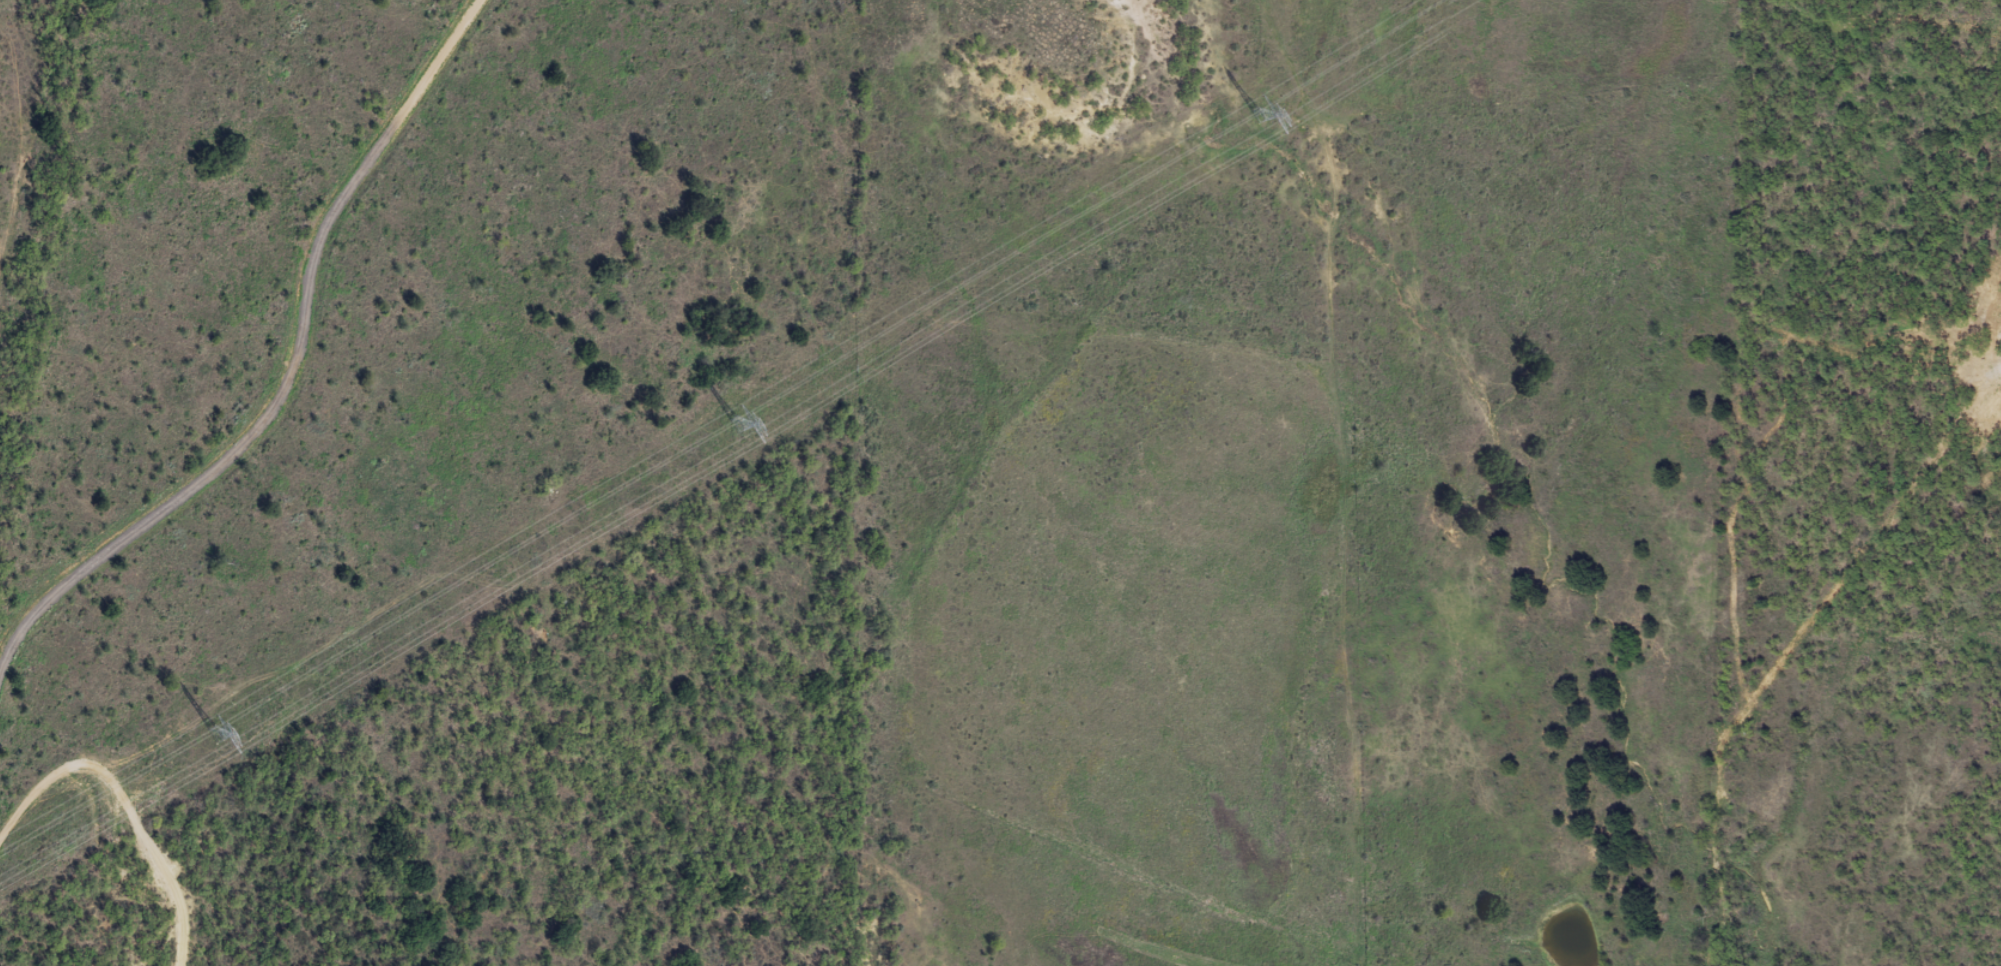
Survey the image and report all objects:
power tower: (1255, 116)
road: (293, 388)
power tower: (737, 425)
power tower: (216, 736)
road: (113, 861)

